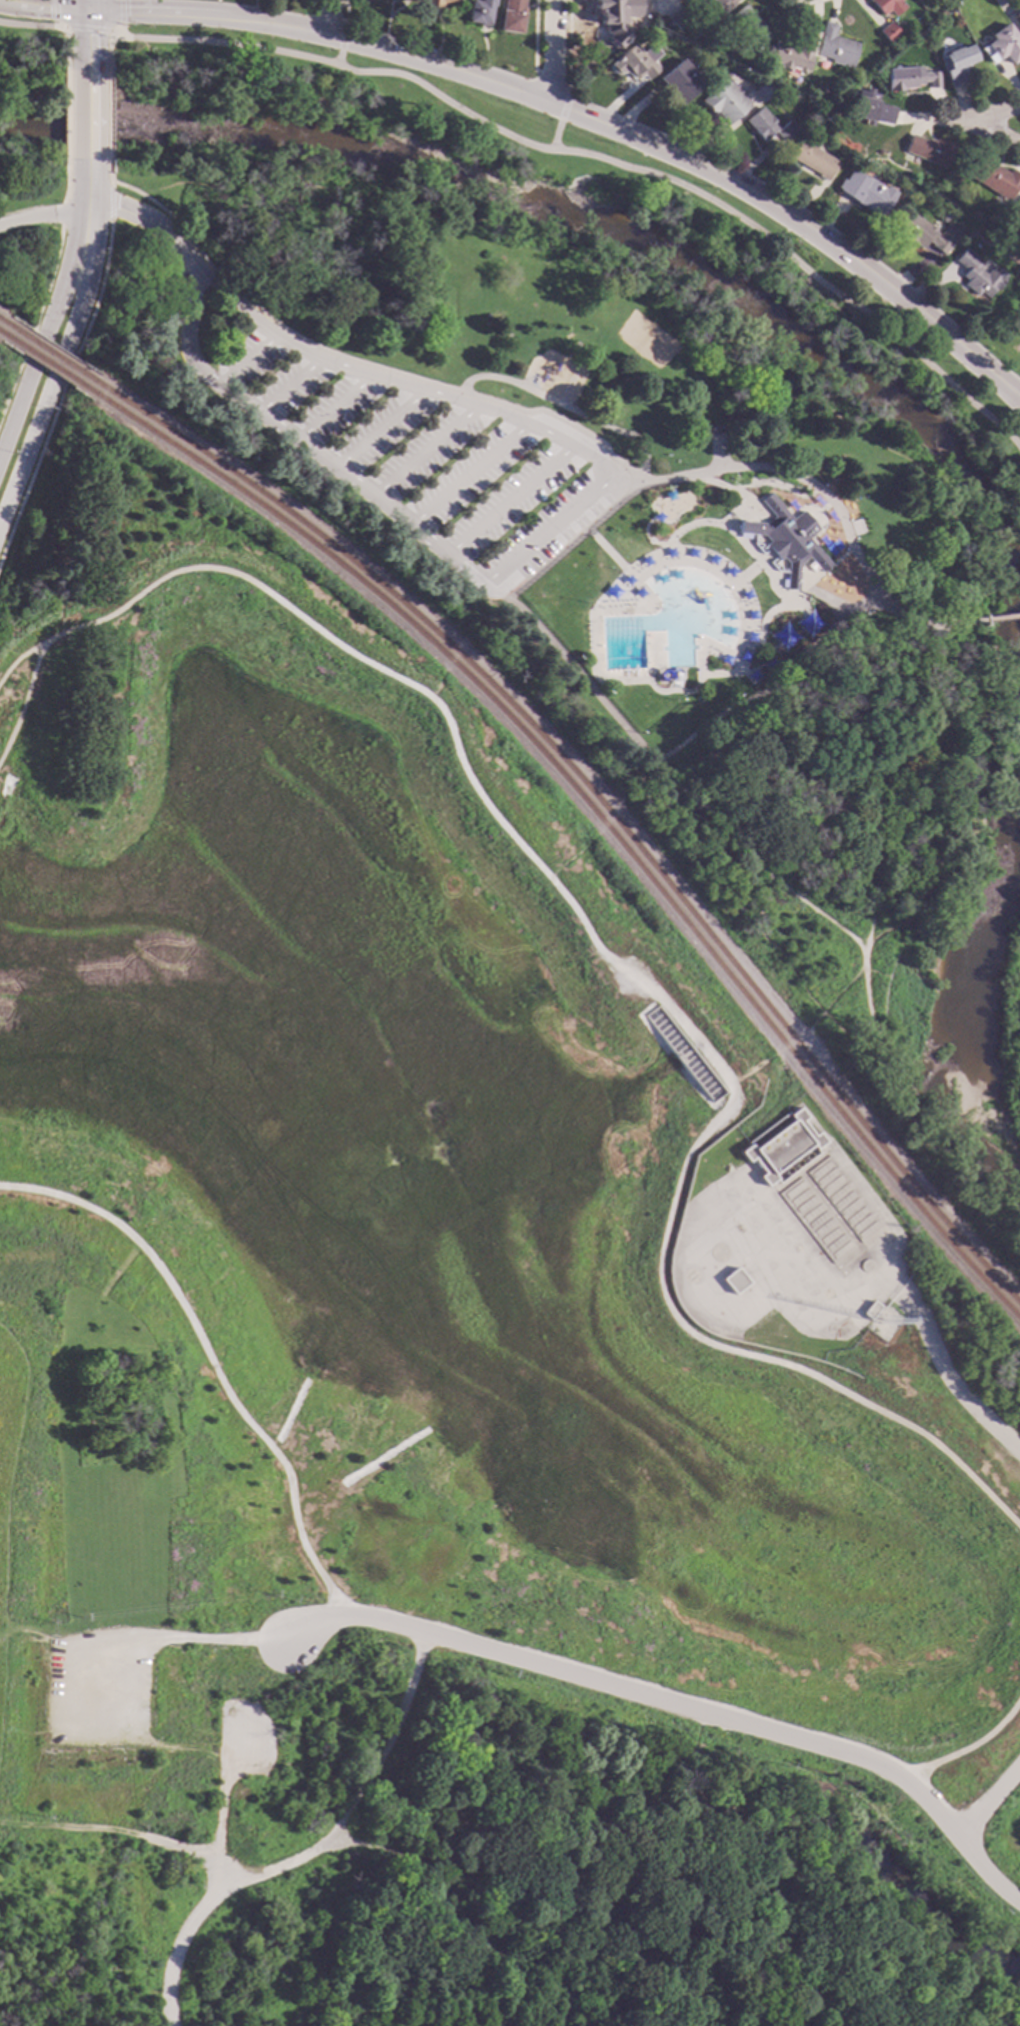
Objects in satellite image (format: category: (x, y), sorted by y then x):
building: (640, 1)
road: (325, 2)
road: (803, 2)
building: (439, 3)
road: (87, 5)
road: (659, 6)
building: (714, 6)
building: (888, 6)
road: (43, 8)
building: (608, 9)
road: (54, 10)
traffic signals: (87, 10)
road: (121, 12)
road: (343, 12)
building: (481, 12)
building: (1018, 15)
road: (326, 16)
building: (512, 16)
road: (215, 17)
building: (678, 18)
road: (87, 20)
building: (748, 23)
road: (54, 25)
road: (34, 27)
road: (88, 30)
road: (121, 30)
road: (342, 30)
building: (890, 32)
road: (534, 36)
road: (341, 45)
building: (1003, 45)
road: (569, 47)
building: (836, 47)
road: (65, 49)
building: (738, 49)
road: (553, 50)
road: (86, 51)
road: (108, 51)
building: (791, 56)
road: (338, 59)
building: (638, 63)
building: (958, 64)
road: (552, 79)
building: (910, 79)
building: (681, 82)
road: (96, 91)
road: (1011, 91)
building: (765, 92)
road: (566, 101)
building: (725, 103)
building: (870, 110)
road: (66, 115)
road: (562, 115)
road: (86, 116)
road: (108, 116)
road: (975, 123)
building: (770, 126)
road: (1004, 132)
road: (555, 136)
building: (928, 150)
road: (599, 158)
building: (815, 160)
road: (705, 170)
road: (109, 172)
building: (994, 177)
road: (87, 186)
road: (260, 188)
building: (868, 194)
road: (92, 210)
river: (566, 211)
road: (43, 216)
building: (946, 217)
park: (27, 222)
road: (150, 223)
building: (927, 233)
road: (84, 244)
building: (980, 275)
road: (46, 294)
road: (57, 305)
road: (78, 315)
road: (266, 316)
road: (710, 316)
railway: (5, 326)
railway: (3, 335)
park: (645, 342)
road: (40, 353)
railway: (50, 355)
road: (246, 361)
railway: (47, 364)
road: (59, 365)
road: (68, 375)
road: (470, 379)
road: (391, 383)
road: (287, 388)
park: (5, 389)
road: (198, 406)
road: (331, 410)
road: (17, 413)
road: (376, 432)
road: (297, 446)
road: (27, 452)
road: (422, 454)
parking lot: (417, 460)
road: (466, 477)
road: (758, 482)
road: (824, 498)
road: (600, 501)
road: (507, 502)
road: (742, 504)
road: (585, 514)
road: (571, 526)
building: (853, 528)
road: (546, 529)
park: (615, 535)
road: (556, 539)
road: (574, 539)
building: (783, 540)
road: (827, 567)
road: (984, 582)
road: (969, 588)
water park: (684, 597)
road: (838, 607)
road: (998, 619)
road: (462, 645)
park: (1011, 651)
road: (16, 660)
river: (1019, 668)
road: (600, 756)
road: (657, 761)
road: (645, 777)
road: (919, 791)
road: (686, 794)
railway: (596, 799)
road: (982, 808)
railway: (593, 813)
road: (594, 838)
road: (764, 874)
road: (843, 931)
road: (592, 943)
park: (618, 966)
road: (799, 982)
road: (844, 989)
river: (981, 1014)
road: (778, 1051)
road: (913, 1110)
building: (781, 1148)
building: (734, 1281)
building: (869, 1312)
road: (211, 1359)
road: (948, 1380)
road: (1009, 1410)
park: (347, 1412)
road: (3, 1516)
road: (24, 1632)
road: (219, 1637)
parking lot: (98, 1690)
road: (678, 1707)
road: (187, 1747)
road: (966, 1747)
park: (372, 1759)
road: (437, 1769)
road: (506, 1782)
road: (131, 1792)
road: (221, 1800)
road: (988, 1803)
road: (111, 1829)
road: (335, 1844)
park: (1005, 1845)
road: (311, 1853)
road: (457, 1912)
road: (390, 1949)
road: (562, 2016)
road: (574, 2016)
park: (531, 2019)

